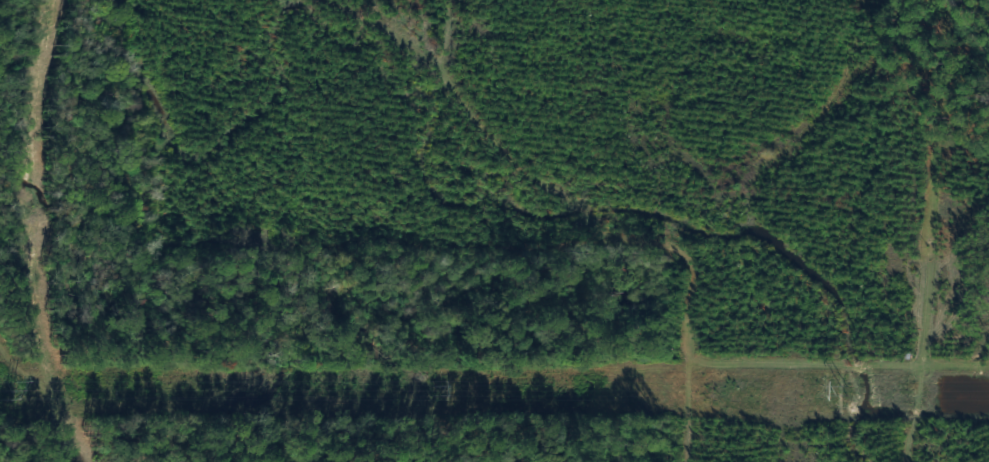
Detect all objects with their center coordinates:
power tower: (29, 392)
power tower: (443, 392)
power tower: (844, 392)

